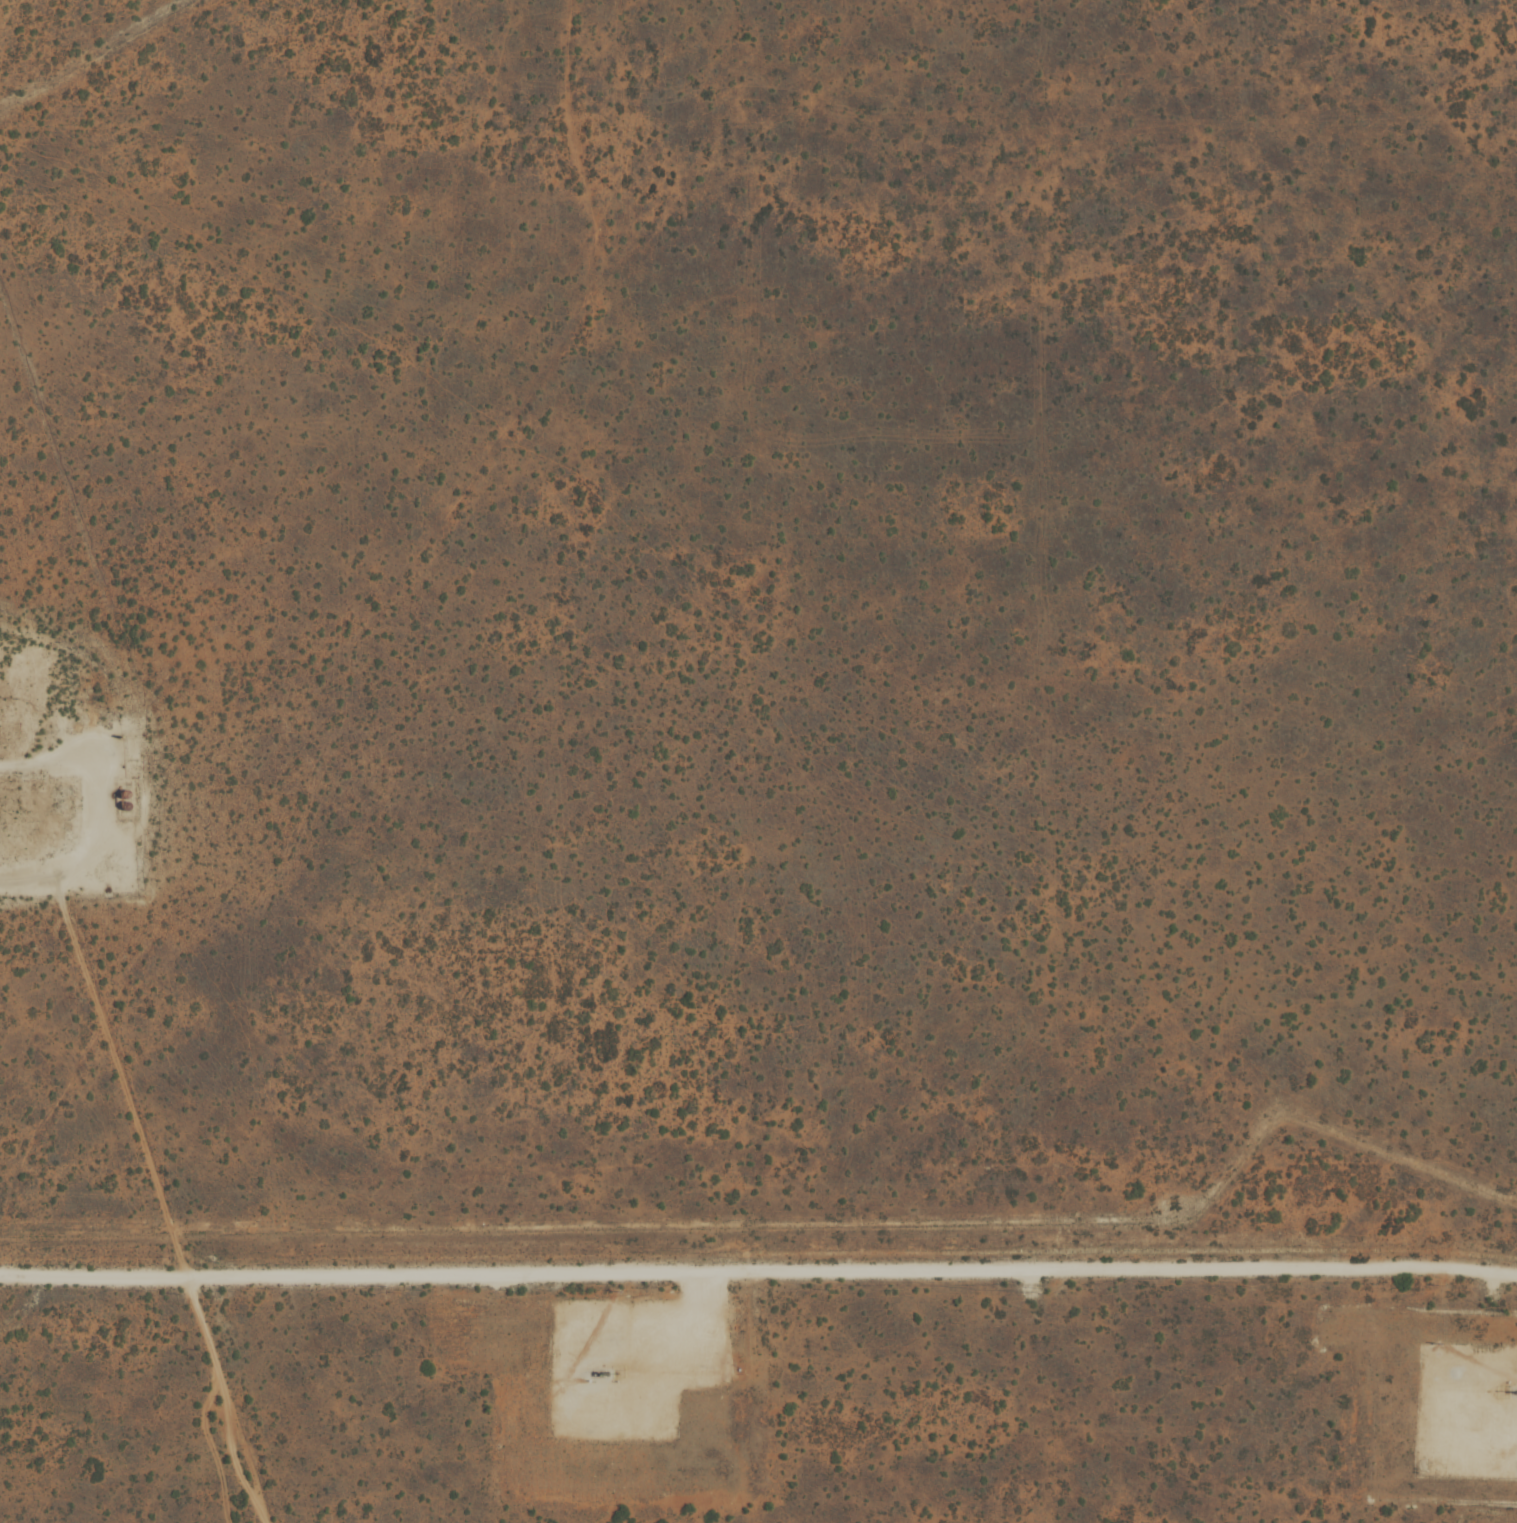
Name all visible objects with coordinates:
petroleum well: (119, 795)
road: (99, 819)
road: (758, 1270)
road: (656, 1343)

